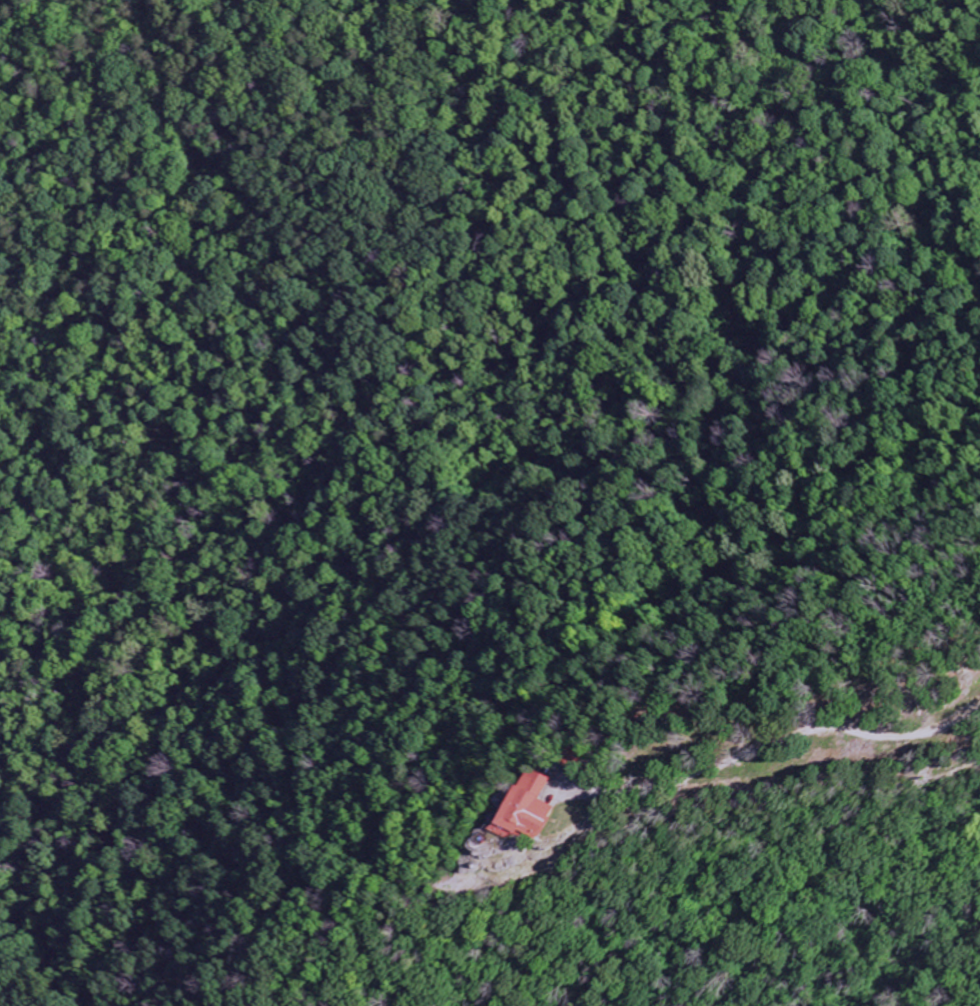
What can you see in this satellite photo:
building: (510, 811)

